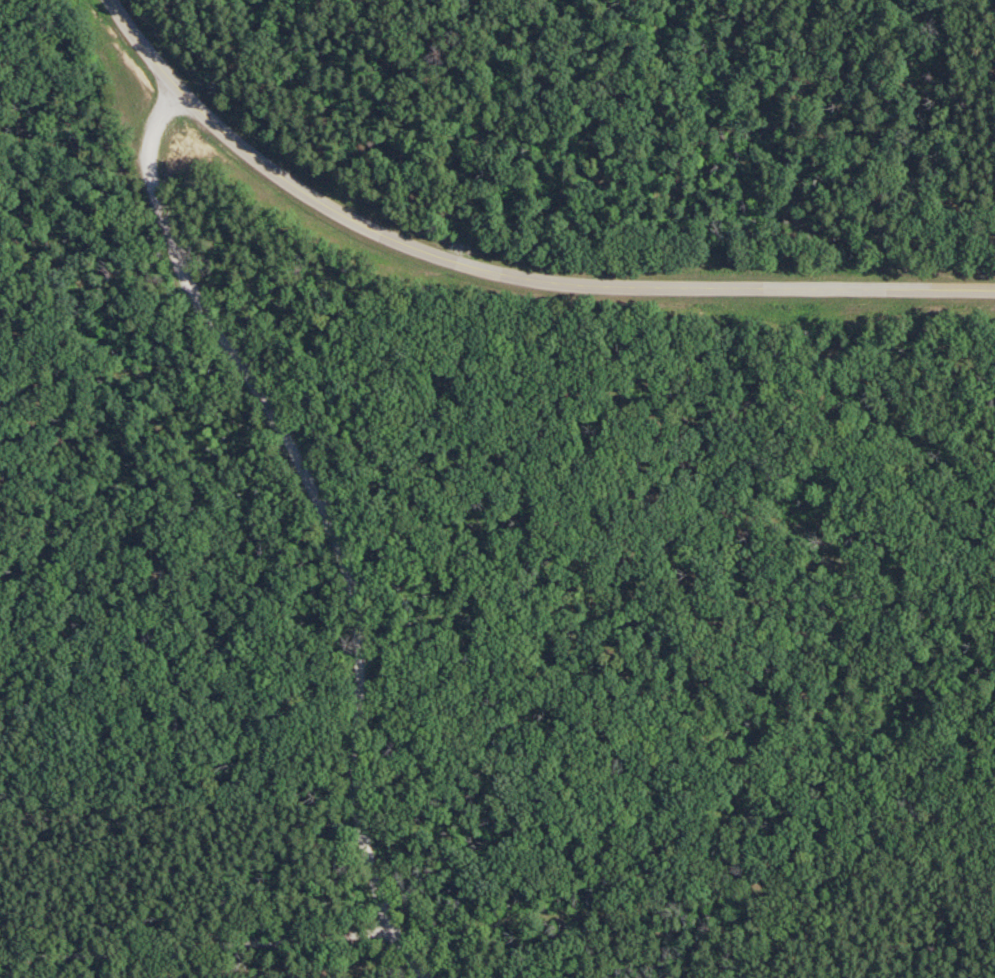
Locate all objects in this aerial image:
road: (501, 273)
road: (325, 517)
road: (195, 945)

